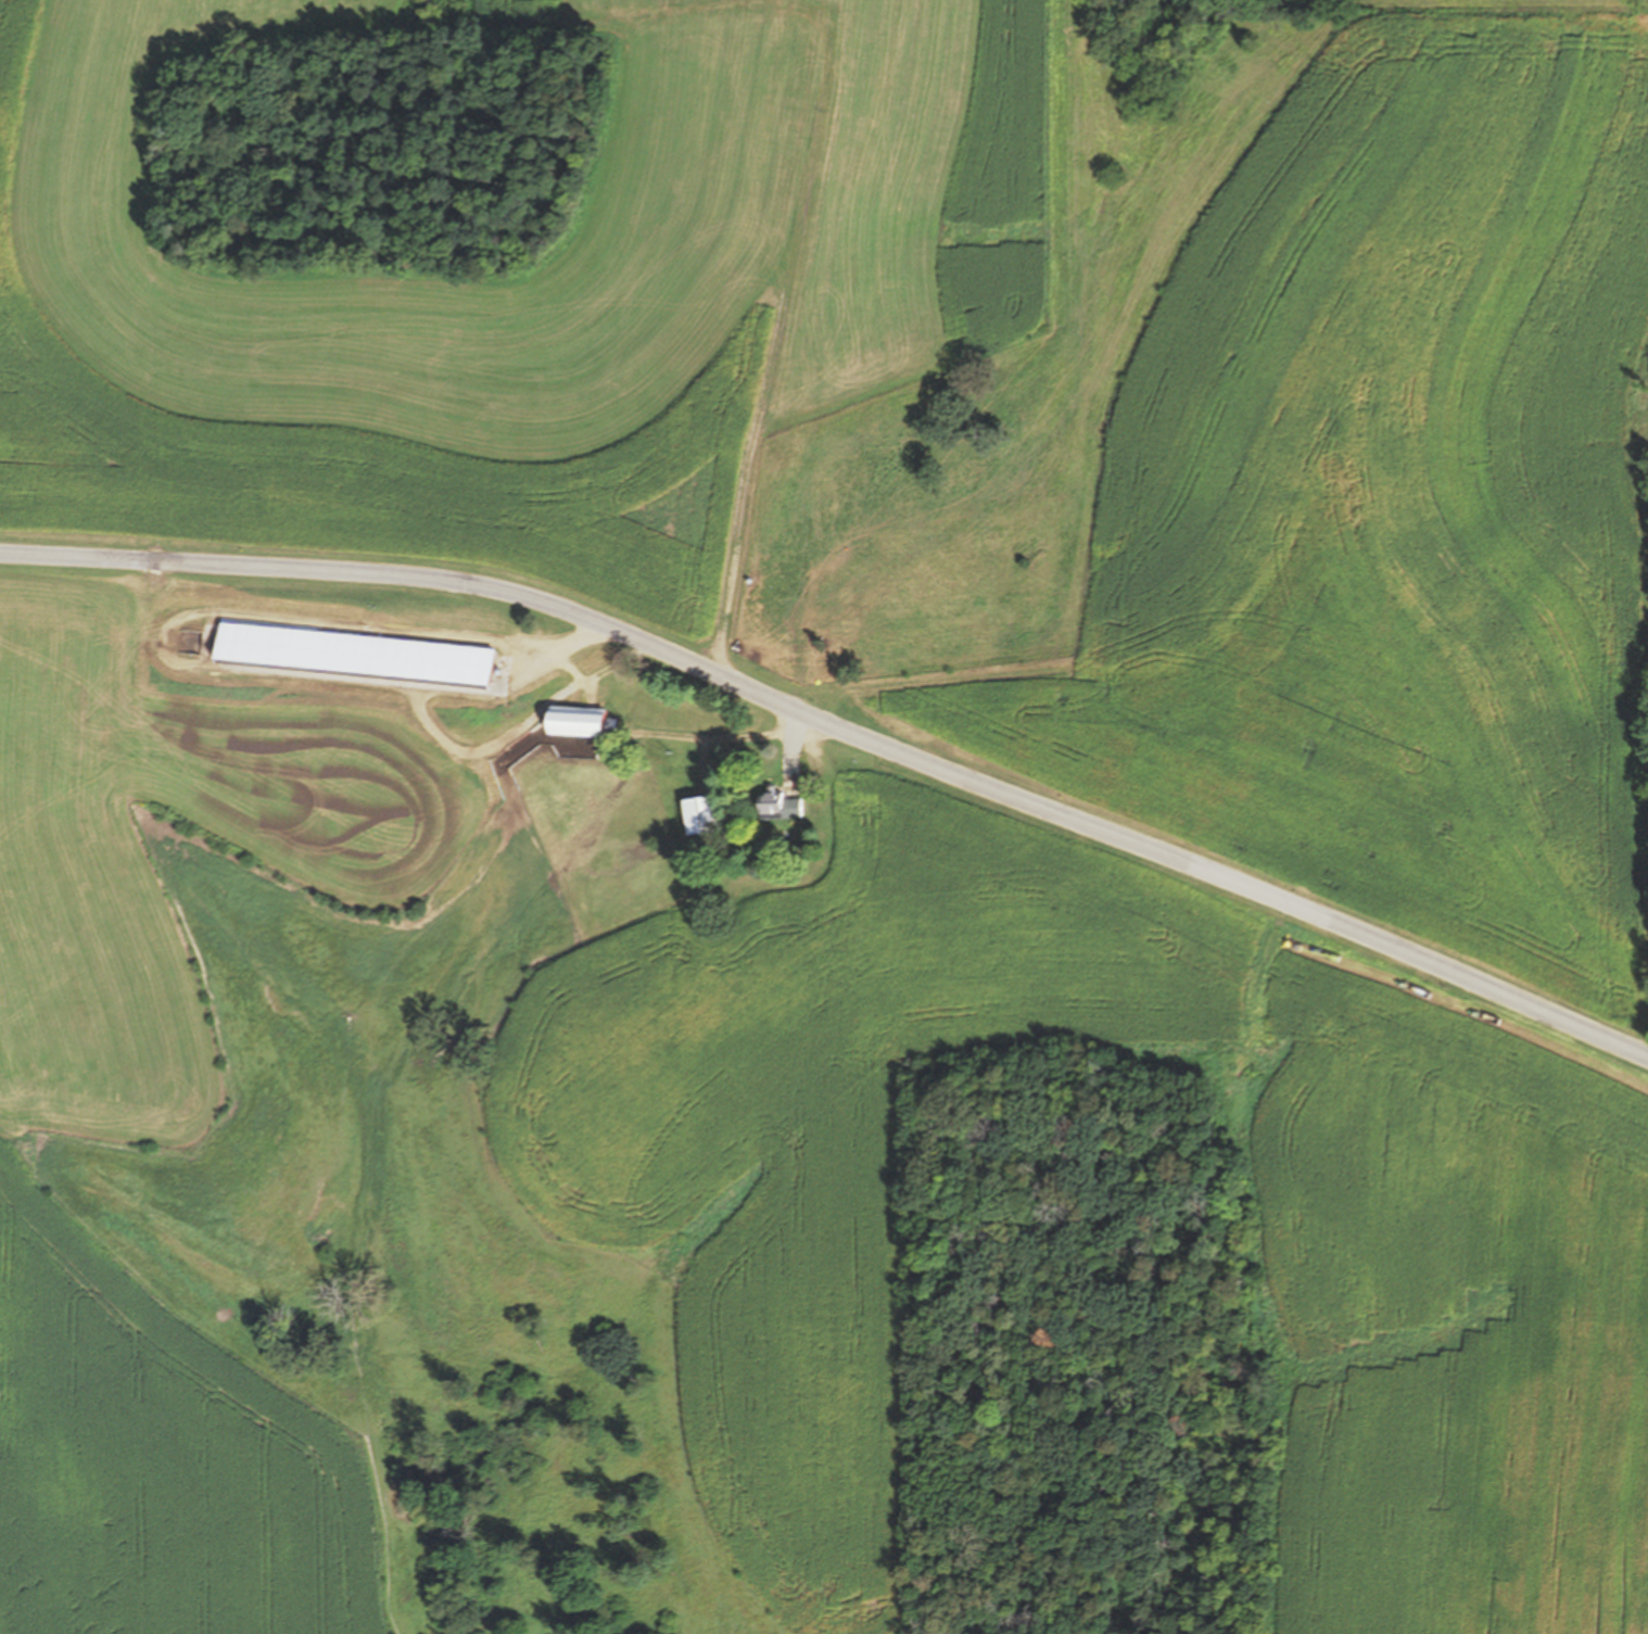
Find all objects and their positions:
road: (778, 345)
building: (419, 660)
building: (579, 719)
road: (841, 725)
road: (708, 736)
road: (796, 750)
road: (483, 755)
building: (781, 805)
building: (703, 814)
road: (1645, 1043)

